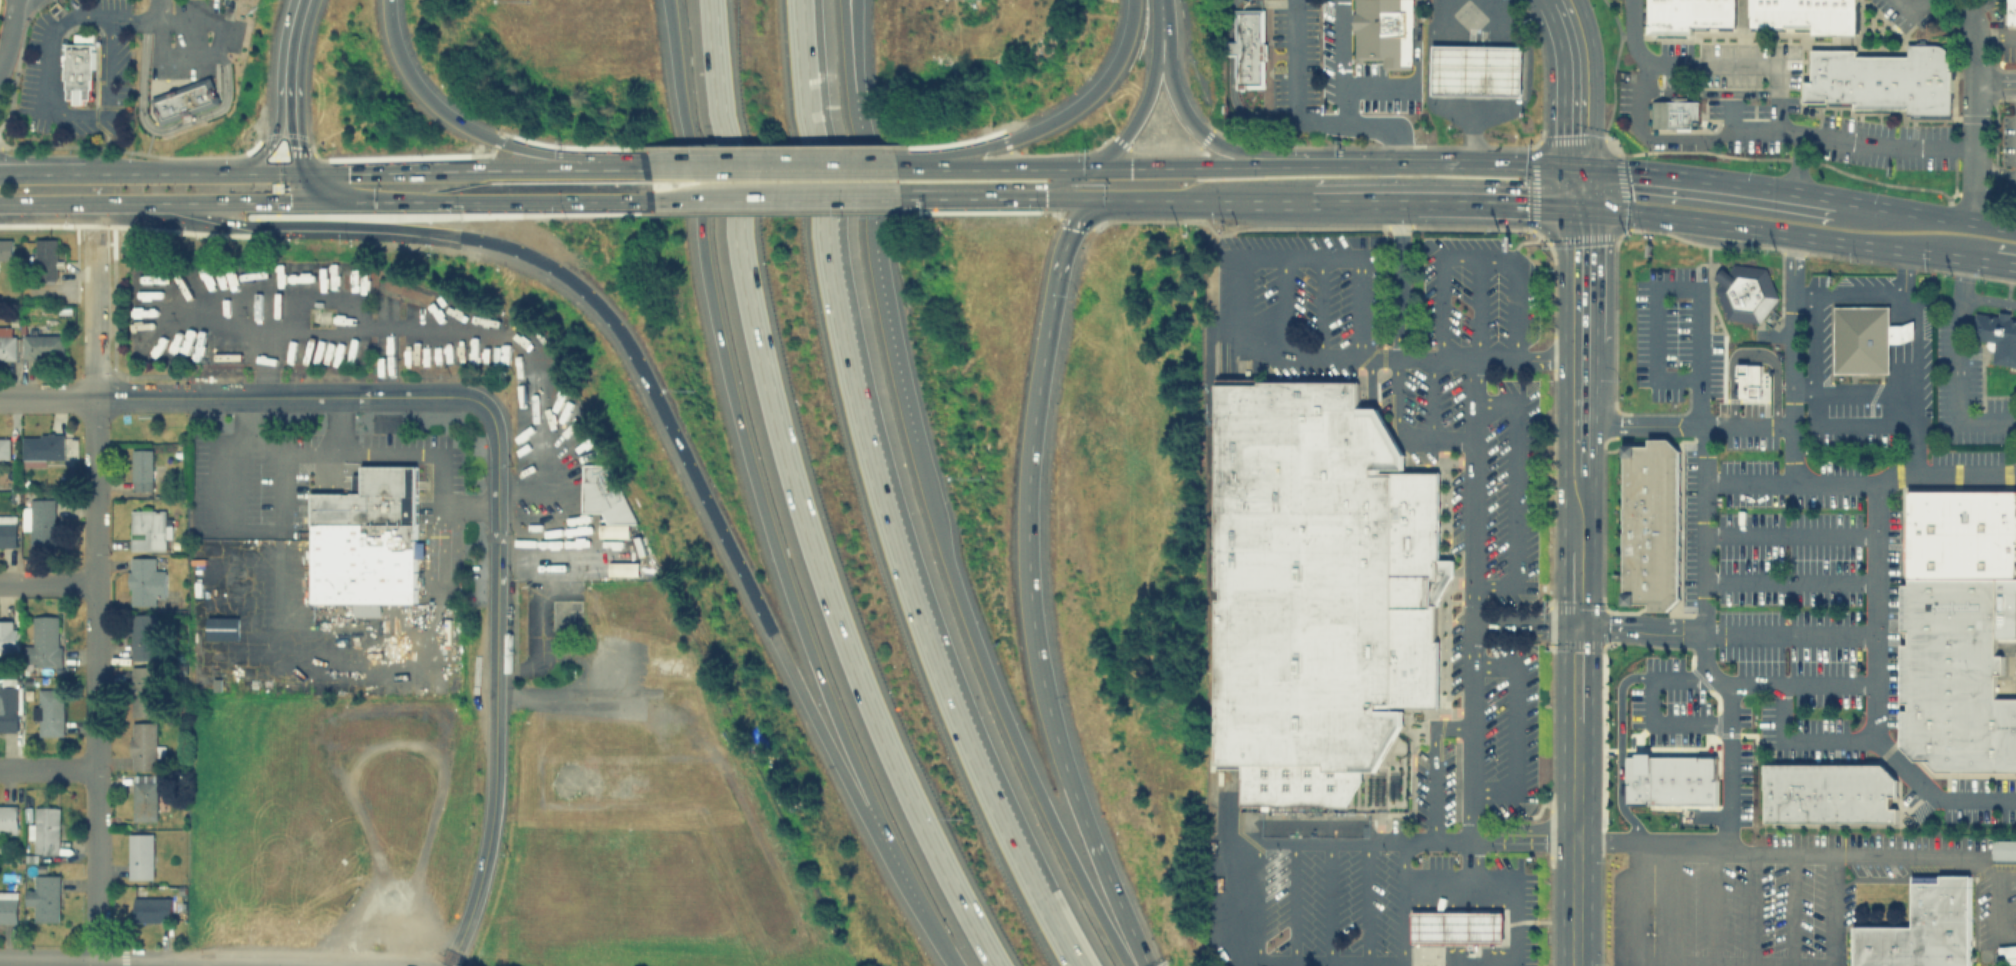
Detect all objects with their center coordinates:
road: (1549, 1)
road: (843, 3)
road: (845, 3)
road: (1913, 6)
building: (2012, 11)
parking lot: (1891, 12)
road: (143, 14)
building: (1689, 14)
building: (1805, 15)
road: (1231, 19)
road: (1161, 20)
road: (9, 29)
building: (1383, 31)
road: (1973, 31)
road: (1995, 33)
road: (1126, 36)
road: (1231, 47)
building: (1247, 47)
road: (295, 50)
road: (215, 52)
parking lot: (2008, 52)
road: (1344, 60)
road: (1742, 63)
building: (1476, 69)
gas station: (1476, 69)
building: (79, 71)
road: (797, 75)
road: (1472, 78)
building: (1885, 78)
road: (1593, 82)
road: (1996, 82)
road: (1564, 83)
road: (1382, 84)
parking lot: (1740, 86)
road: (417, 87)
road: (1709, 92)
parking lot: (1623, 98)
building: (185, 100)
road: (51, 108)
road: (1140, 110)
road: (1730, 110)
building: (1675, 113)
road: (1241, 114)
road: (1185, 115)
road: (1052, 118)
road: (1304, 120)
road: (1738, 128)
road: (273, 138)
road: (295, 139)
road: (1975, 141)
traffic signals: (271, 143)
parking lot: (1884, 143)
traffic signals: (297, 145)
parking lot: (2008, 153)
road: (531, 155)
road: (938, 157)
road: (1799, 160)
road: (1405, 164)
road: (1169, 165)
road: (993, 166)
traffic signals: (1129, 166)
traffic signals: (1565, 166)
road: (1580, 166)
traffic signals: (1595, 167)
road: (46, 168)
road: (771, 168)
road: (1995, 168)
road: (607, 169)
road: (435, 171)
road: (46, 173)
road: (198, 173)
traffic signals: (346, 173)
road: (1714, 177)
road: (1071, 181)
road: (1565, 186)
road: (1595, 187)
road: (321, 192)
road: (974, 196)
traffic signals: (1045, 196)
road: (776, 197)
road: (1071, 197)
road: (571, 200)
road: (1204, 201)
road: (45, 202)
road: (170, 202)
traffic signals: (287, 203)
road: (297, 203)
road: (417, 203)
road: (1440, 204)
traffic signals: (1565, 206)
road: (1580, 207)
traffic signals: (1595, 208)
road: (1924, 210)
road: (317, 214)
road: (865, 225)
road: (408, 228)
traffic signals: (1071, 229)
road: (1792, 231)
building: (5, 248)
road: (1300, 257)
road: (1476, 257)
building: (46, 258)
road: (2003, 261)
road: (1565, 271)
road: (1594, 273)
road: (1398, 280)
parking lot: (1315, 283)
road: (1677, 288)
parking lot: (1468, 290)
building: (1745, 291)
road: (1869, 293)
road: (1989, 299)
road: (1323, 307)
road: (1477, 307)
road: (1283, 308)
road: (1901, 309)
road: (91, 312)
parking lot: (1822, 328)
road: (457, 332)
road: (1901, 333)
building: (1997, 335)
building: (1865, 337)
building: (7, 343)
building: (42, 345)
road: (1752, 356)
road: (1402, 357)
road: (1959, 366)
building: (1749, 381)
road: (1815, 387)
road: (338, 395)
road: (45, 396)
road: (138, 396)
road: (657, 398)
road: (1432, 398)
road: (1564, 406)
road: (1904, 407)
parking lot: (1967, 407)
road: (1593, 408)
road: (734, 409)
road: (1787, 422)
road: (1835, 422)
road: (336, 423)
road: (1402, 430)
building: (4, 447)
building: (42, 448)
road: (367, 452)
building: (142, 469)
parking lot: (1484, 469)
road: (1876, 478)
road: (1748, 480)
road: (1026, 489)
road: (1517, 491)
building: (605, 492)
road: (497, 494)
road: (802, 499)
building: (39, 520)
building: (1652, 523)
building: (149, 528)
building: (8, 530)
road: (254, 530)
road: (1790, 532)
building: (366, 541)
road: (1703, 549)
road: (892, 557)
parking lot: (1772, 557)
building: (623, 568)
road: (1790, 579)
building: (145, 580)
road: (46, 584)
building: (1317, 588)
road: (1877, 608)
road: (1523, 622)
road: (495, 624)
traffic signals: (1574, 626)
road: (1637, 630)
road: (1789, 631)
building: (1958, 633)
building: (143, 635)
building: (8, 637)
building: (44, 641)
road: (370, 644)
road: (1472, 650)
parking lot: (2015, 663)
road: (92, 678)
road: (1827, 681)
building: (144, 690)
building: (9, 704)
building: (50, 711)
road: (1001, 711)
road: (1619, 716)
road: (1574, 720)
road: (1665, 722)
road: (1513, 728)
road: (829, 734)
parking lot: (1483, 736)
road: (1844, 739)
building: (143, 745)
road: (494, 748)
road: (1727, 765)
road: (46, 768)
building: (1670, 779)
building: (1829, 793)
building: (144, 796)
parking lot: (1981, 799)
building: (8, 816)
building: (45, 829)
road: (1319, 840)
road: (1697, 845)
building: (2004, 849)
road: (1902, 853)
road: (896, 854)
building: (139, 855)
road: (2005, 855)
road: (1100, 876)
road: (1515, 881)
building: (44, 896)
road: (472, 897)
parking lot: (1328, 902)
road: (1230, 903)
road: (1256, 903)
road: (1293, 903)
road: (1328, 903)
road: (1366, 903)
road: (1403, 903)
building: (8, 906)
building: (150, 907)
road: (1750, 908)
road: (1790, 909)
road: (1834, 909)
building: (1457, 925)
gas station: (1457, 925)
road: (936, 927)
building: (1922, 928)
road: (1063, 953)
building: (2009, 953)
road: (954, 956)
road: (95, 963)
road: (212, 963)
road: (262, 964)

